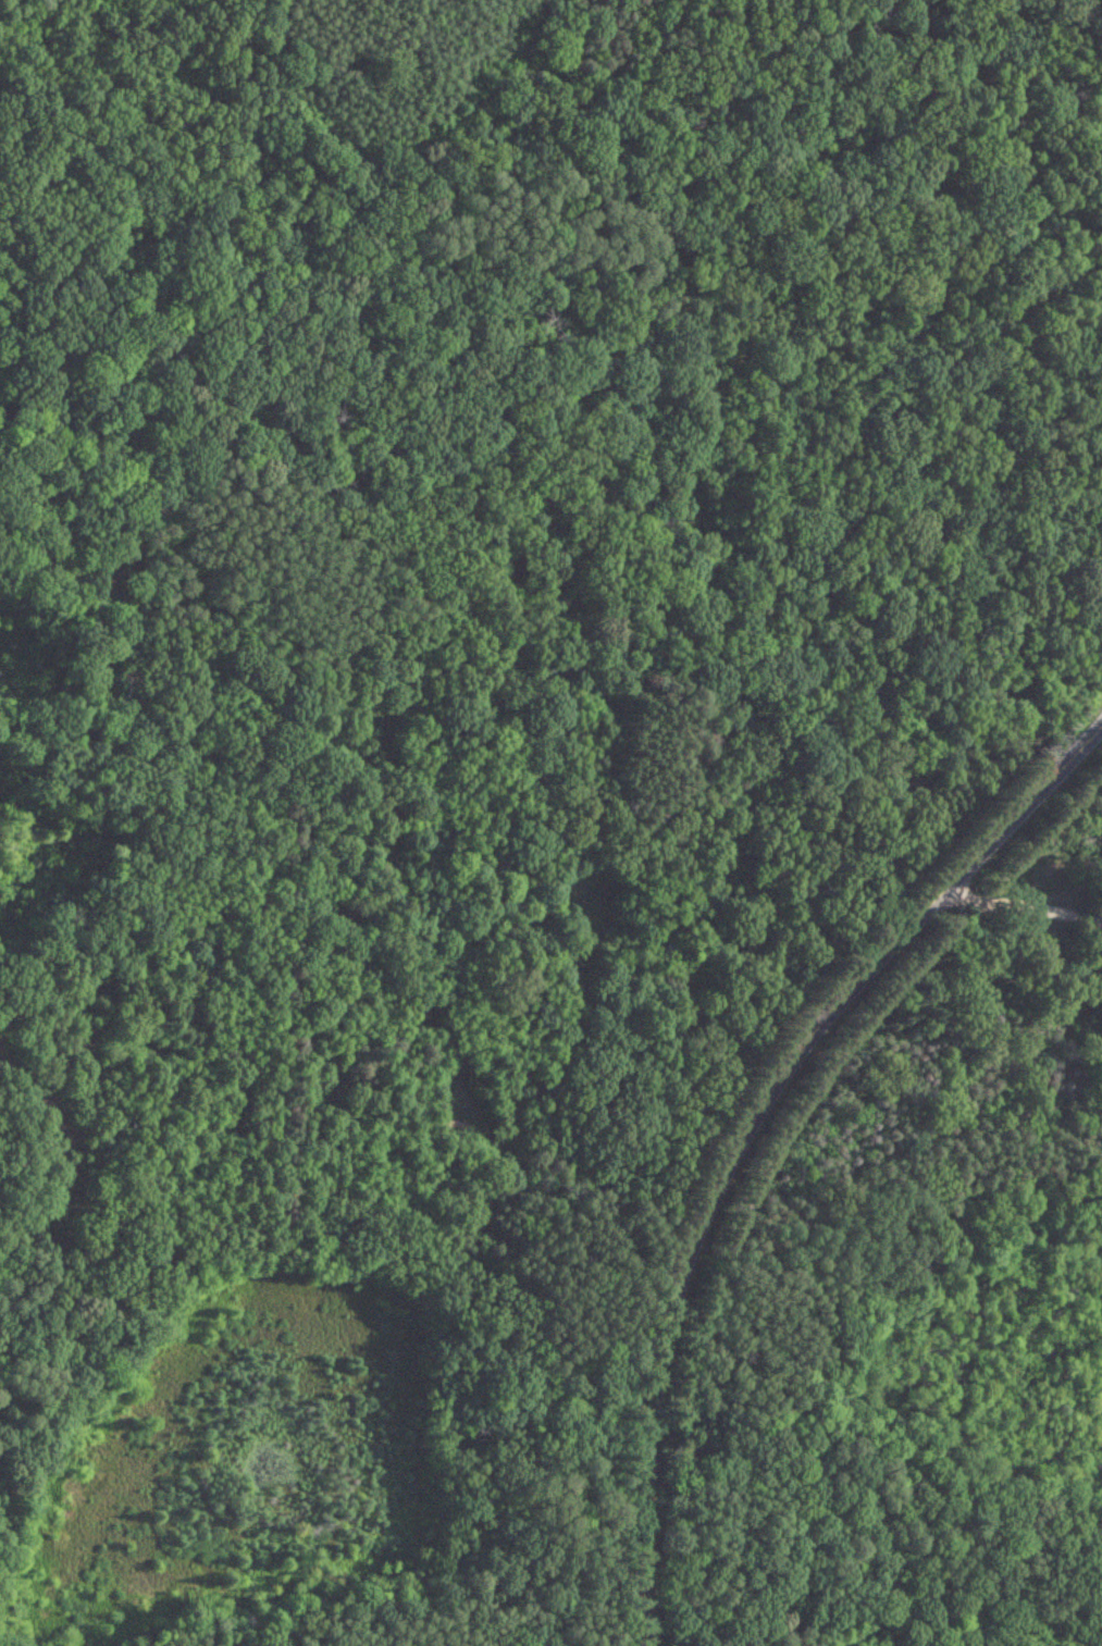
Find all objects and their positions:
road: (145, 745)
road: (1023, 908)
road: (746, 1124)
road: (16, 1241)

